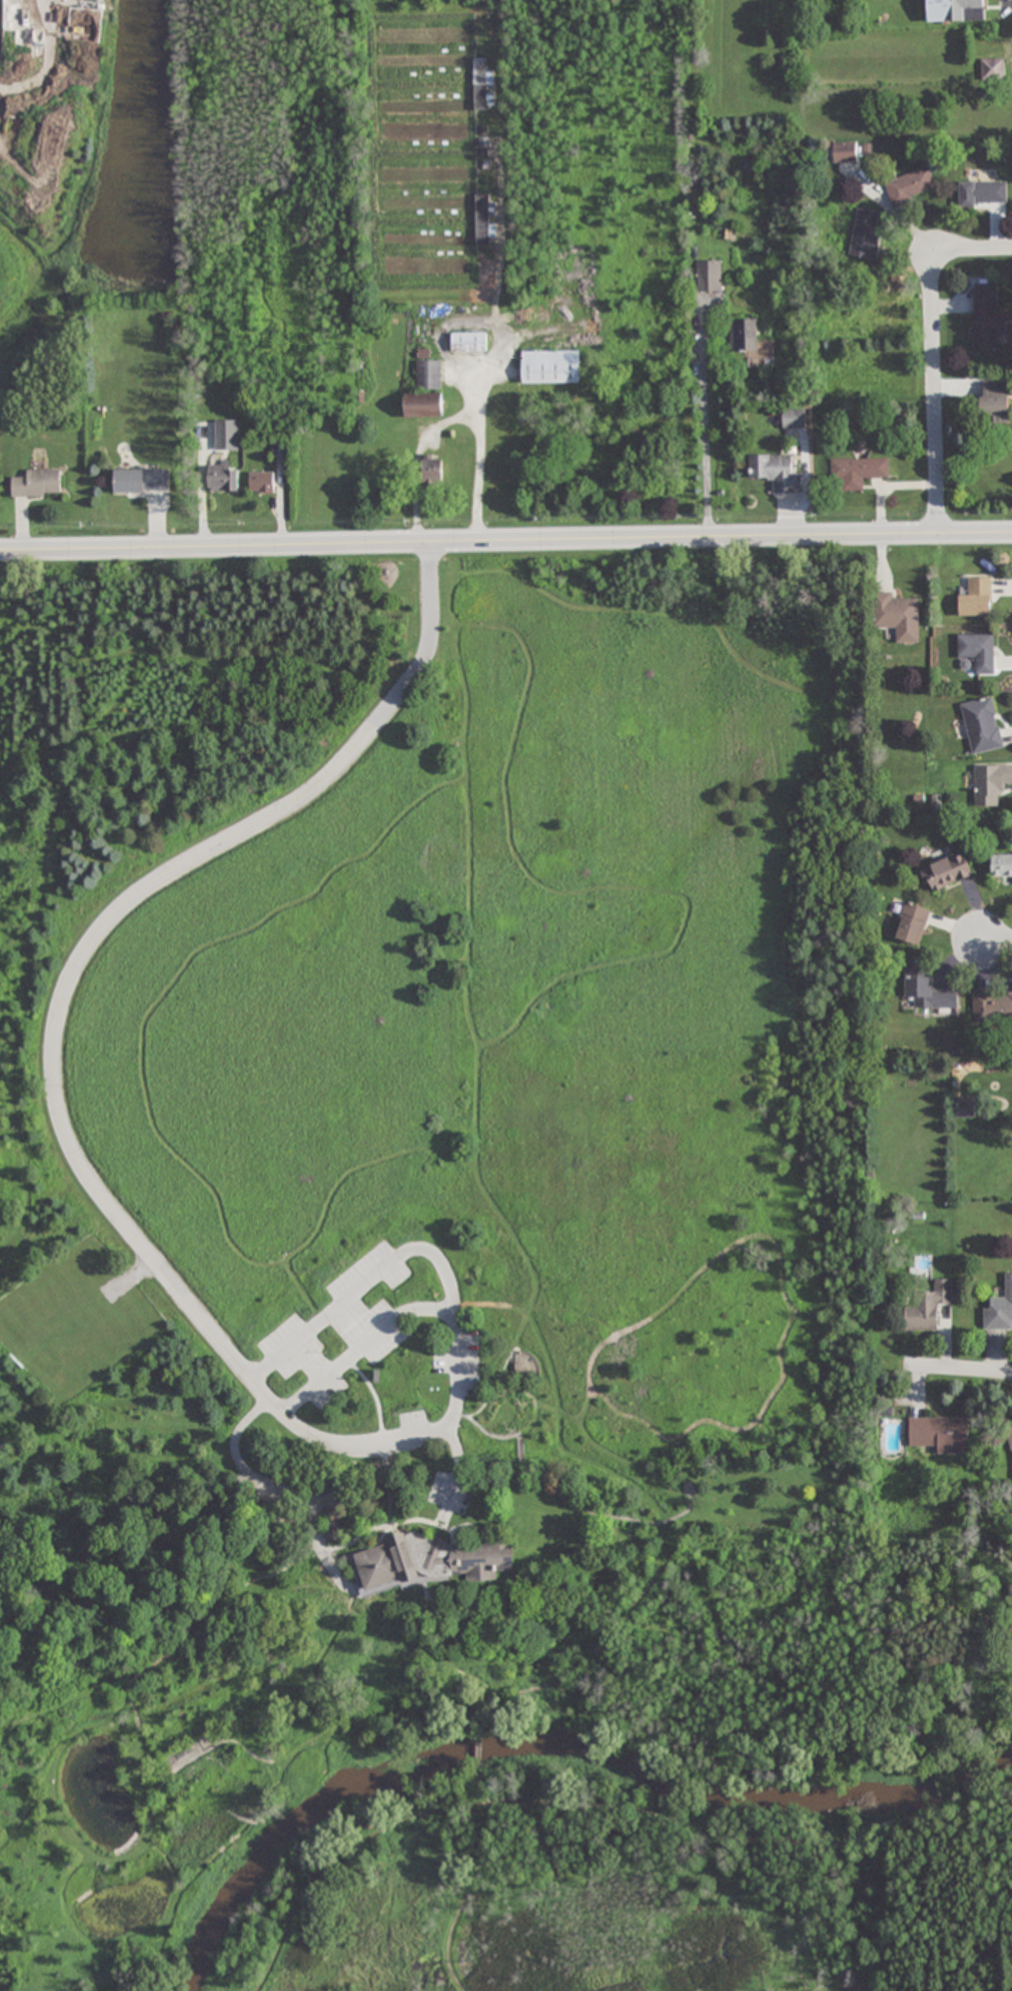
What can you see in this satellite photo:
building: (956, 10)
building: (993, 69)
building: (483, 86)
building: (845, 153)
building: (910, 186)
building: (983, 193)
building: (484, 219)
building: (864, 236)
road: (1011, 247)
building: (710, 275)
building: (985, 317)
building: (744, 335)
building: (469, 342)
road: (933, 359)
building: (551, 367)
building: (995, 401)
building: (423, 404)
building: (794, 419)
road: (702, 420)
building: (227, 434)
building: (432, 470)
building: (858, 472)
building: (775, 473)
building: (222, 476)
building: (142, 481)
building: (262, 482)
building: (38, 483)
road: (505, 540)
building: (976, 599)
building: (897, 617)
building: (977, 651)
building: (982, 725)
building: (991, 784)
building: (1002, 866)
building: (946, 872)
building: (913, 923)
road: (995, 937)
road: (82, 971)
building: (928, 991)
building: (993, 1009)
building: (965, 1107)
park: (441, 1282)
building: (929, 1306)
building: (1000, 1310)
road: (959, 1373)
building: (941, 1433)
building: (333, 1526)
building: (429, 1562)
river: (544, 1732)
park: (968, 1777)

